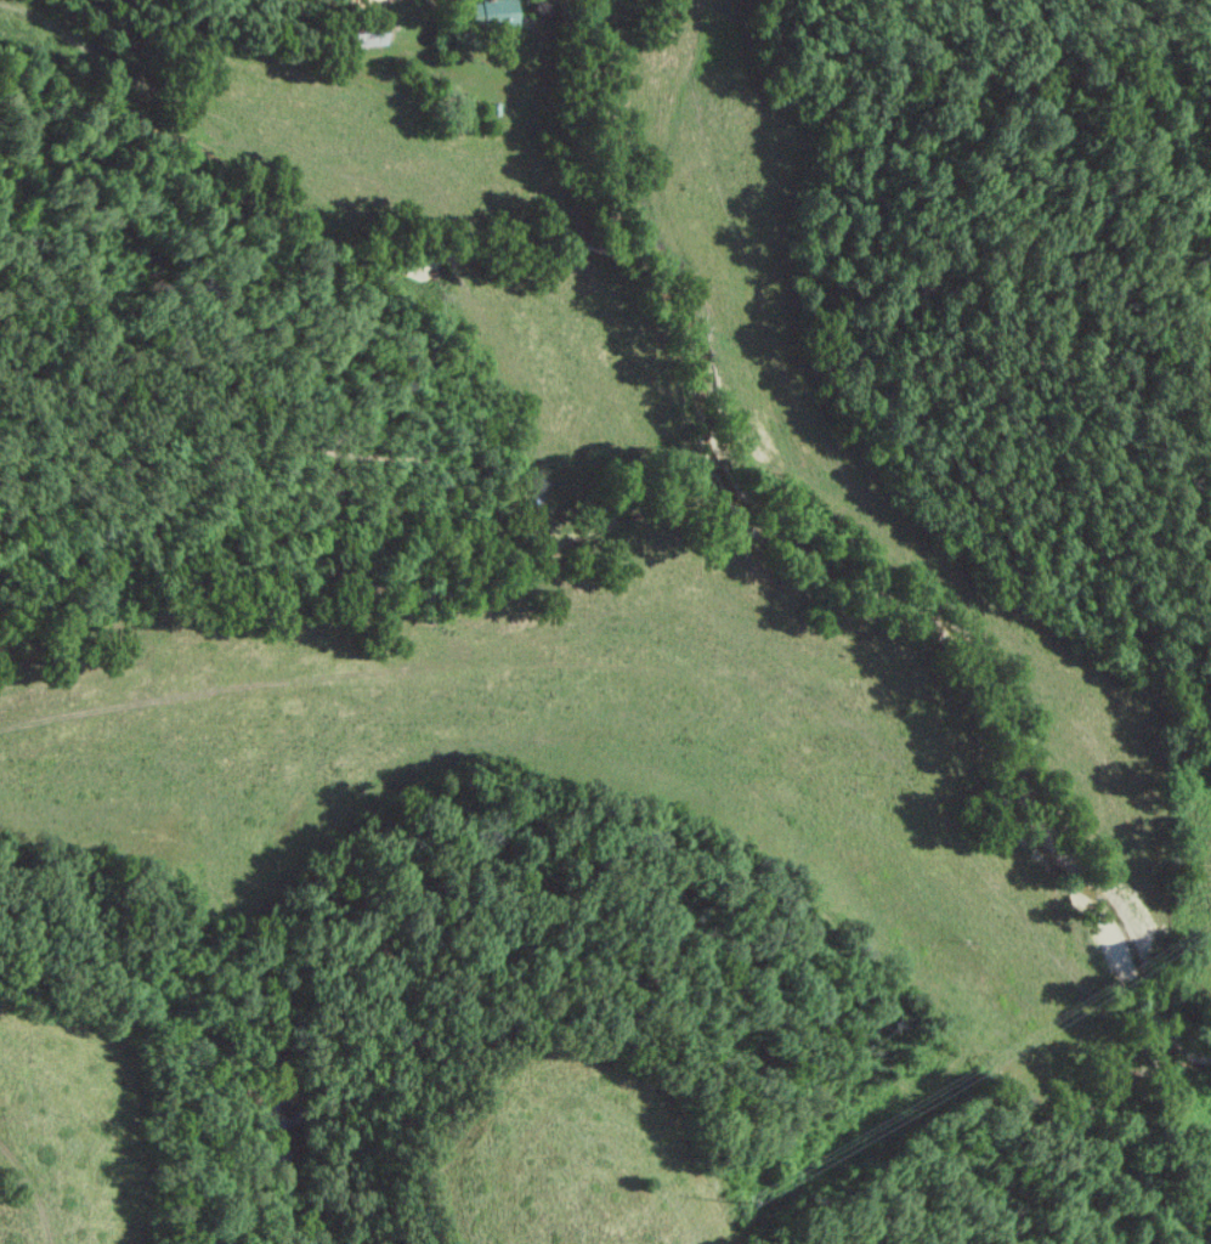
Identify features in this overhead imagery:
building: (490, 13)

